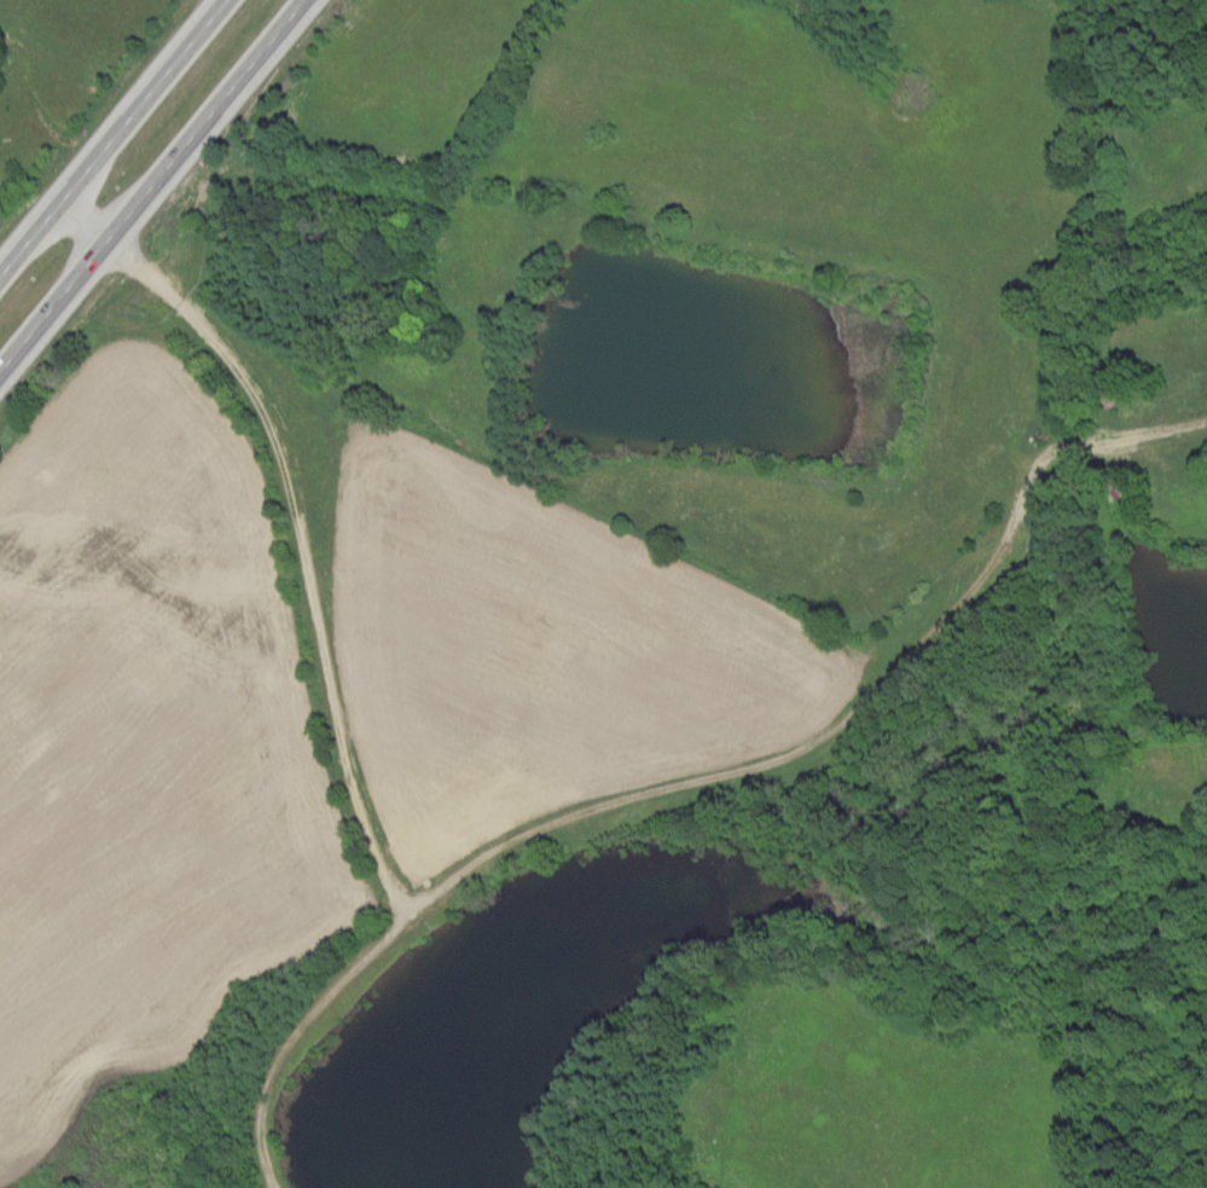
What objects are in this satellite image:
road: (111, 137)
road: (150, 182)
road: (308, 574)
road: (1120, 624)
road: (700, 780)

